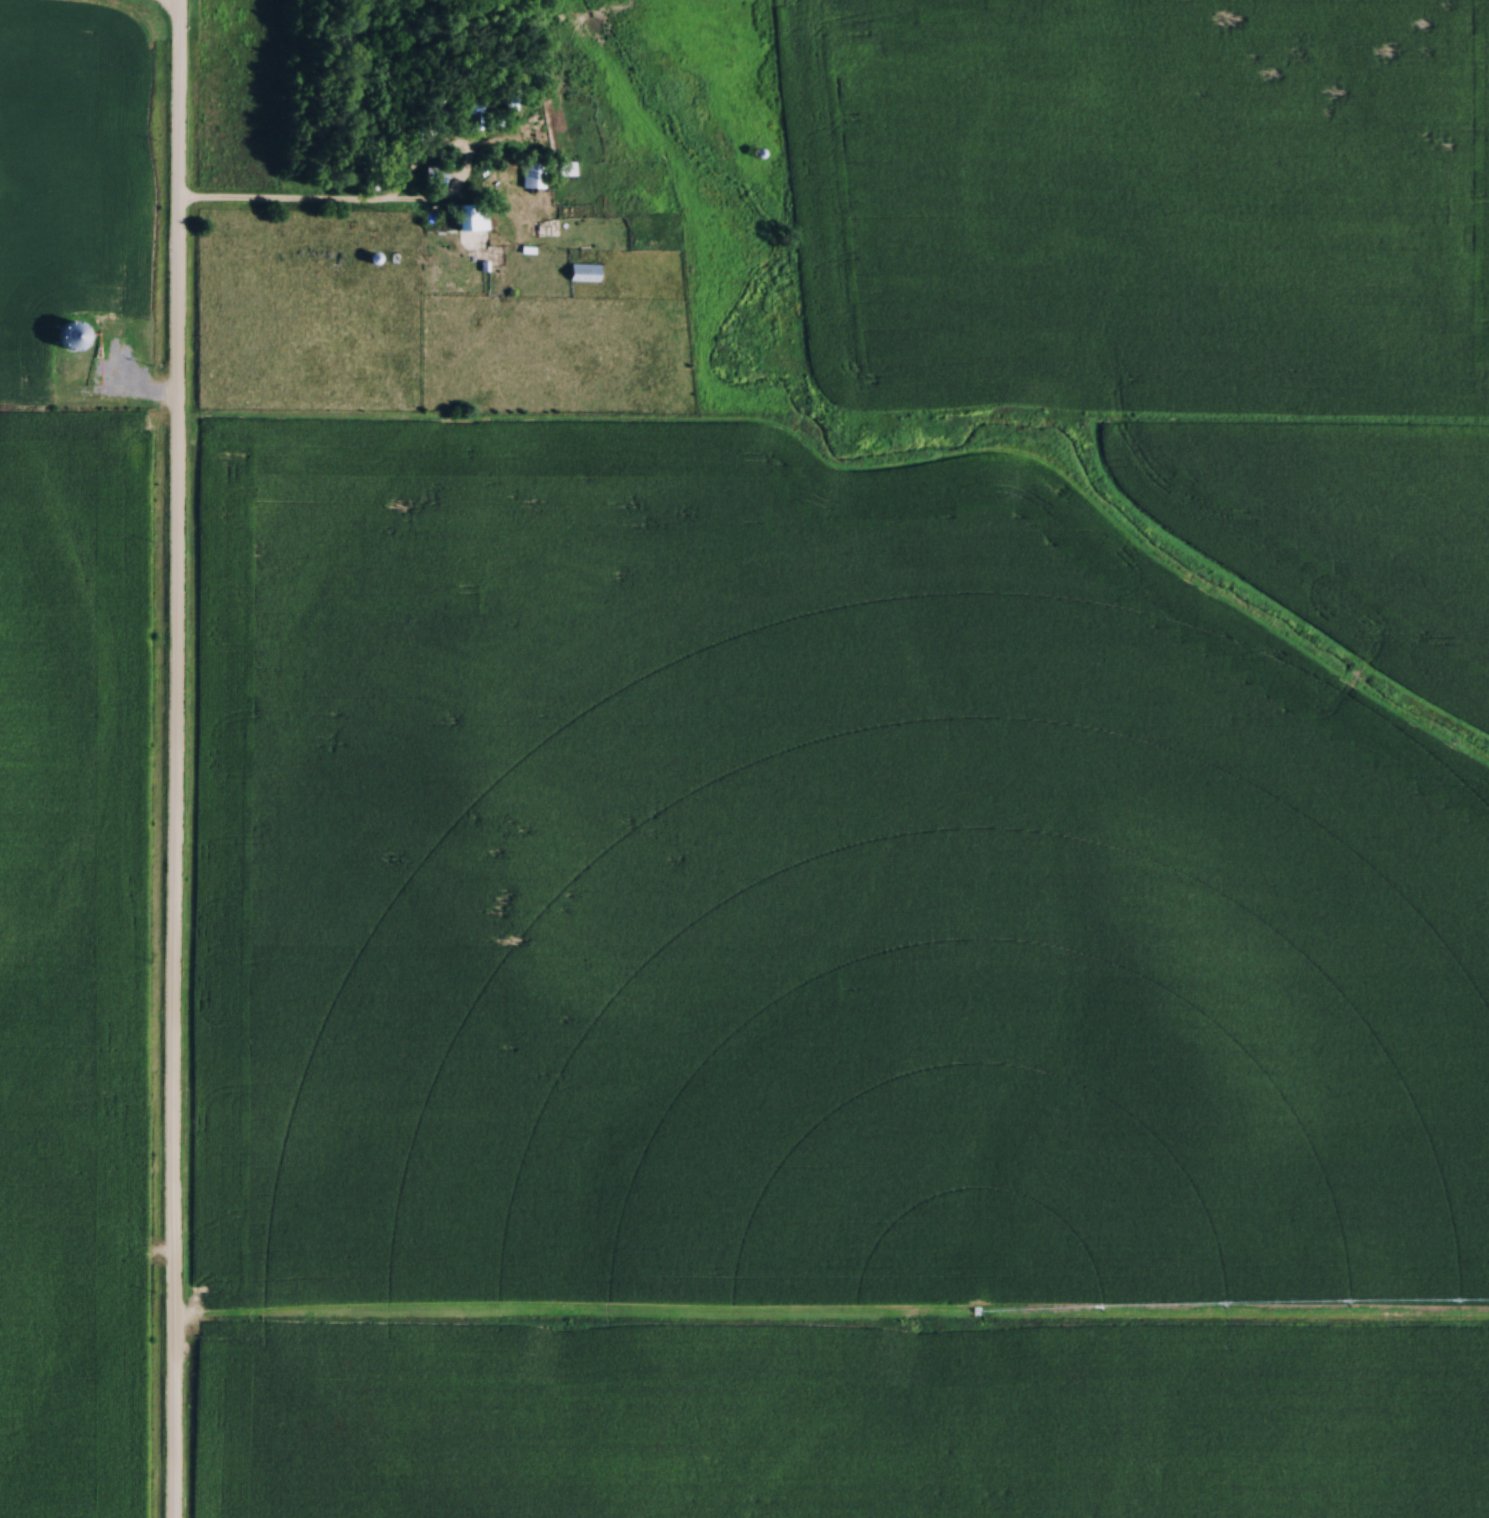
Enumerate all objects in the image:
building: (509, 99)
building: (468, 109)
building: (563, 169)
building: (533, 174)
building: (433, 176)
road: (308, 204)
building: (469, 218)
building: (583, 272)
building: (67, 337)
road: (178, 759)
road: (392, 1158)

